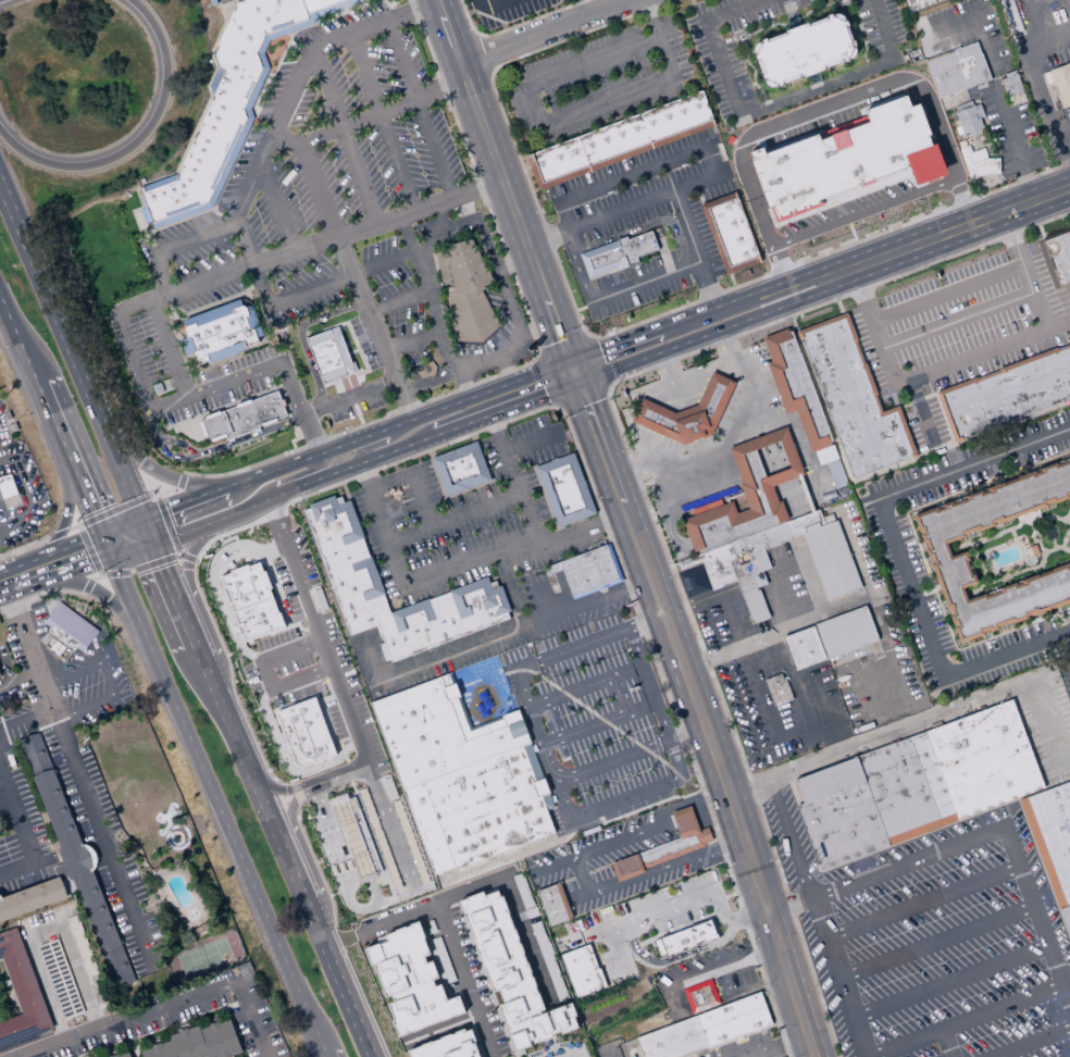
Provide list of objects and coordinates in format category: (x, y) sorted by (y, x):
road: (907, 0)
road: (488, 5)
road: (389, 8)
road: (580, 8)
road: (650, 17)
building: (1011, 17)
road: (512, 26)
road: (294, 28)
road: (542, 30)
road: (476, 37)
building: (806, 50)
road: (480, 54)
building: (915, 55)
building: (951, 64)
road: (488, 71)
road: (273, 72)
building: (1056, 80)
road: (1034, 83)
building: (1011, 87)
road: (288, 94)
building: (228, 104)
road: (248, 104)
road: (771, 104)
road: (999, 107)
road: (418, 108)
road: (823, 108)
road: (251, 115)
road: (368, 116)
building: (967, 119)
road: (381, 121)
road: (540, 123)
road: (343, 135)
road: (137, 139)
building: (621, 140)
road: (1061, 158)
building: (847, 159)
building: (974, 161)
road: (634, 175)
road: (501, 179)
road: (316, 188)
road: (698, 194)
road: (962, 200)
road: (275, 206)
road: (211, 207)
road: (626, 207)
road: (863, 213)
road: (223, 215)
road: (438, 216)
parking lot: (341, 222)
road: (140, 226)
building: (731, 233)
road: (944, 233)
road: (716, 239)
road: (176, 246)
road: (684, 248)
road: (693, 248)
building: (620, 252)
building: (1056, 258)
road: (511, 260)
road: (575, 265)
road: (781, 266)
road: (1023, 270)
road: (624, 278)
road: (731, 279)
road: (318, 286)
road: (430, 290)
building: (466, 290)
road: (167, 291)
road: (946, 293)
road: (738, 297)
road: (398, 300)
road: (508, 302)
road: (582, 307)
road: (838, 307)
road: (368, 312)
road: (322, 314)
road: (957, 320)
road: (536, 326)
road: (13, 327)
building: (221, 332)
road: (606, 334)
road: (13, 335)
road: (700, 335)
road: (587, 338)
road: (410, 340)
road: (724, 340)
road: (613, 344)
road: (169, 347)
road: (357, 347)
road: (564, 349)
road: (353, 350)
road: (536, 353)
road: (539, 356)
building: (325, 357)
road: (69, 359)
traffic signals: (569, 361)
road: (594, 362)
road: (664, 363)
road: (306, 364)
road: (572, 371)
road: (924, 372)
road: (692, 374)
road: (672, 378)
road: (550, 380)
traffic signals: (576, 382)
road: (607, 385)
road: (96, 386)
road: (39, 388)
building: (798, 388)
road: (490, 389)
road: (359, 393)
road: (581, 393)
building: (1005, 394)
road: (466, 395)
road: (318, 398)
building: (854, 399)
road: (525, 400)
road: (407, 403)
road: (557, 405)
road: (311, 409)
road: (759, 410)
road: (920, 412)
building: (687, 413)
building: (7, 414)
road: (302, 414)
building: (244, 416)
building: (12, 427)
road: (456, 427)
road: (310, 435)
road: (365, 436)
road: (725, 436)
road: (295, 438)
road: (384, 440)
road: (531, 440)
road: (178, 442)
road: (211, 448)
gas station: (710, 448)
road: (398, 449)
road: (776, 457)
building: (461, 468)
road: (73, 469)
road: (273, 471)
road: (625, 473)
road: (365, 475)
road: (514, 478)
road: (181, 480)
road: (277, 481)
road: (389, 481)
road: (539, 484)
building: (7, 486)
road: (788, 487)
road: (26, 488)
road: (640, 488)
building: (565, 489)
building: (395, 492)
road: (163, 494)
road: (662, 494)
building: (747, 494)
road: (421, 499)
road: (252, 501)
road: (791, 502)
road: (182, 505)
road: (113, 512)
road: (258, 515)
road: (378, 515)
road: (64, 518)
road: (453, 518)
building: (805, 523)
road: (736, 525)
road: (73, 527)
road: (160, 527)
road: (100, 532)
traffic signals: (144, 532)
road: (55, 536)
road: (673, 538)
road: (610, 539)
parking lot: (462, 542)
traffic signals: (105, 545)
building: (297, 545)
road: (23, 548)
building: (933, 548)
road: (235, 549)
road: (88, 550)
road: (492, 551)
road: (898, 554)
road: (71, 557)
road: (184, 560)
road: (761, 560)
building: (831, 560)
building: (750, 561)
building: (688, 563)
road: (805, 564)
building: (720, 565)
road: (137, 568)
building: (551, 568)
building: (589, 571)
road: (767, 574)
road: (96, 577)
building: (353, 577)
road: (751, 580)
building: (304, 583)
road: (86, 586)
road: (510, 587)
road: (730, 588)
building: (246, 592)
road: (170, 593)
road: (39, 594)
road: (776, 598)
road: (690, 602)
building: (755, 605)
building: (311, 609)
road: (294, 617)
road: (731, 619)
road: (194, 620)
road: (644, 621)
road: (127, 625)
road: (265, 627)
road: (512, 627)
building: (69, 629)
building: (844, 632)
road: (774, 634)
building: (324, 635)
road: (240, 645)
road: (634, 645)
building: (805, 647)
road: (570, 648)
road: (150, 649)
road: (27, 651)
road: (370, 657)
road: (0, 659)
building: (331, 662)
road: (494, 663)
road: (508, 664)
road: (2, 668)
road: (4, 669)
building: (496, 671)
road: (510, 671)
road: (498, 675)
road: (1058, 675)
road: (105, 676)
road: (16, 679)
building: (286, 679)
road: (582, 685)
road: (794, 685)
building: (344, 687)
road: (470, 689)
building: (779, 689)
road: (480, 694)
road: (822, 696)
road: (764, 697)
road: (525, 707)
road: (873, 707)
road: (505, 708)
parking lot: (590, 708)
road: (23, 714)
building: (350, 716)
road: (697, 718)
road: (917, 722)
road: (597, 723)
building: (438, 732)
road: (684, 734)
road: (668, 739)
building: (308, 751)
road: (344, 754)
building: (34, 755)
building: (982, 760)
road: (611, 761)
building: (375, 772)
road: (552, 781)
building: (906, 788)
road: (624, 798)
building: (492, 806)
building: (841, 813)
road: (313, 817)
building: (391, 826)
road: (651, 828)
building: (428, 829)
road: (22, 831)
building: (357, 835)
building: (1050, 836)
road: (970, 837)
road: (103, 845)
road: (135, 846)
building: (665, 846)
road: (282, 856)
road: (550, 865)
road: (663, 866)
building: (393, 872)
road: (580, 874)
building: (83, 878)
building: (350, 893)
road: (577, 897)
building: (32, 899)
road: (922, 901)
road: (259, 904)
building: (553, 904)
road: (723, 913)
road: (646, 915)
road: (747, 917)
building: (1065, 920)
road: (43, 932)
building: (683, 937)
road: (936, 941)
park: (203, 957)
road: (673, 957)
road: (746, 959)
building: (87, 962)
building: (581, 971)
building: (510, 972)
building: (60, 979)
building: (409, 981)
road: (949, 981)
road: (469, 982)
building: (21, 993)
building: (701, 996)
road: (166, 1004)
road: (697, 1009)
road: (219, 1014)
road: (851, 1017)
building: (733, 1020)
road: (162, 1034)
building: (220, 1040)
building: (672, 1040)
road: (1030, 1042)
building: (188, 1043)
road: (946, 1043)
road: (774, 1045)
building: (446, 1046)
road: (108, 1049)
road: (612, 1049)
building: (159, 1050)
building: (122, 1055)
road: (324, 1055)
building: (176, 1056)

